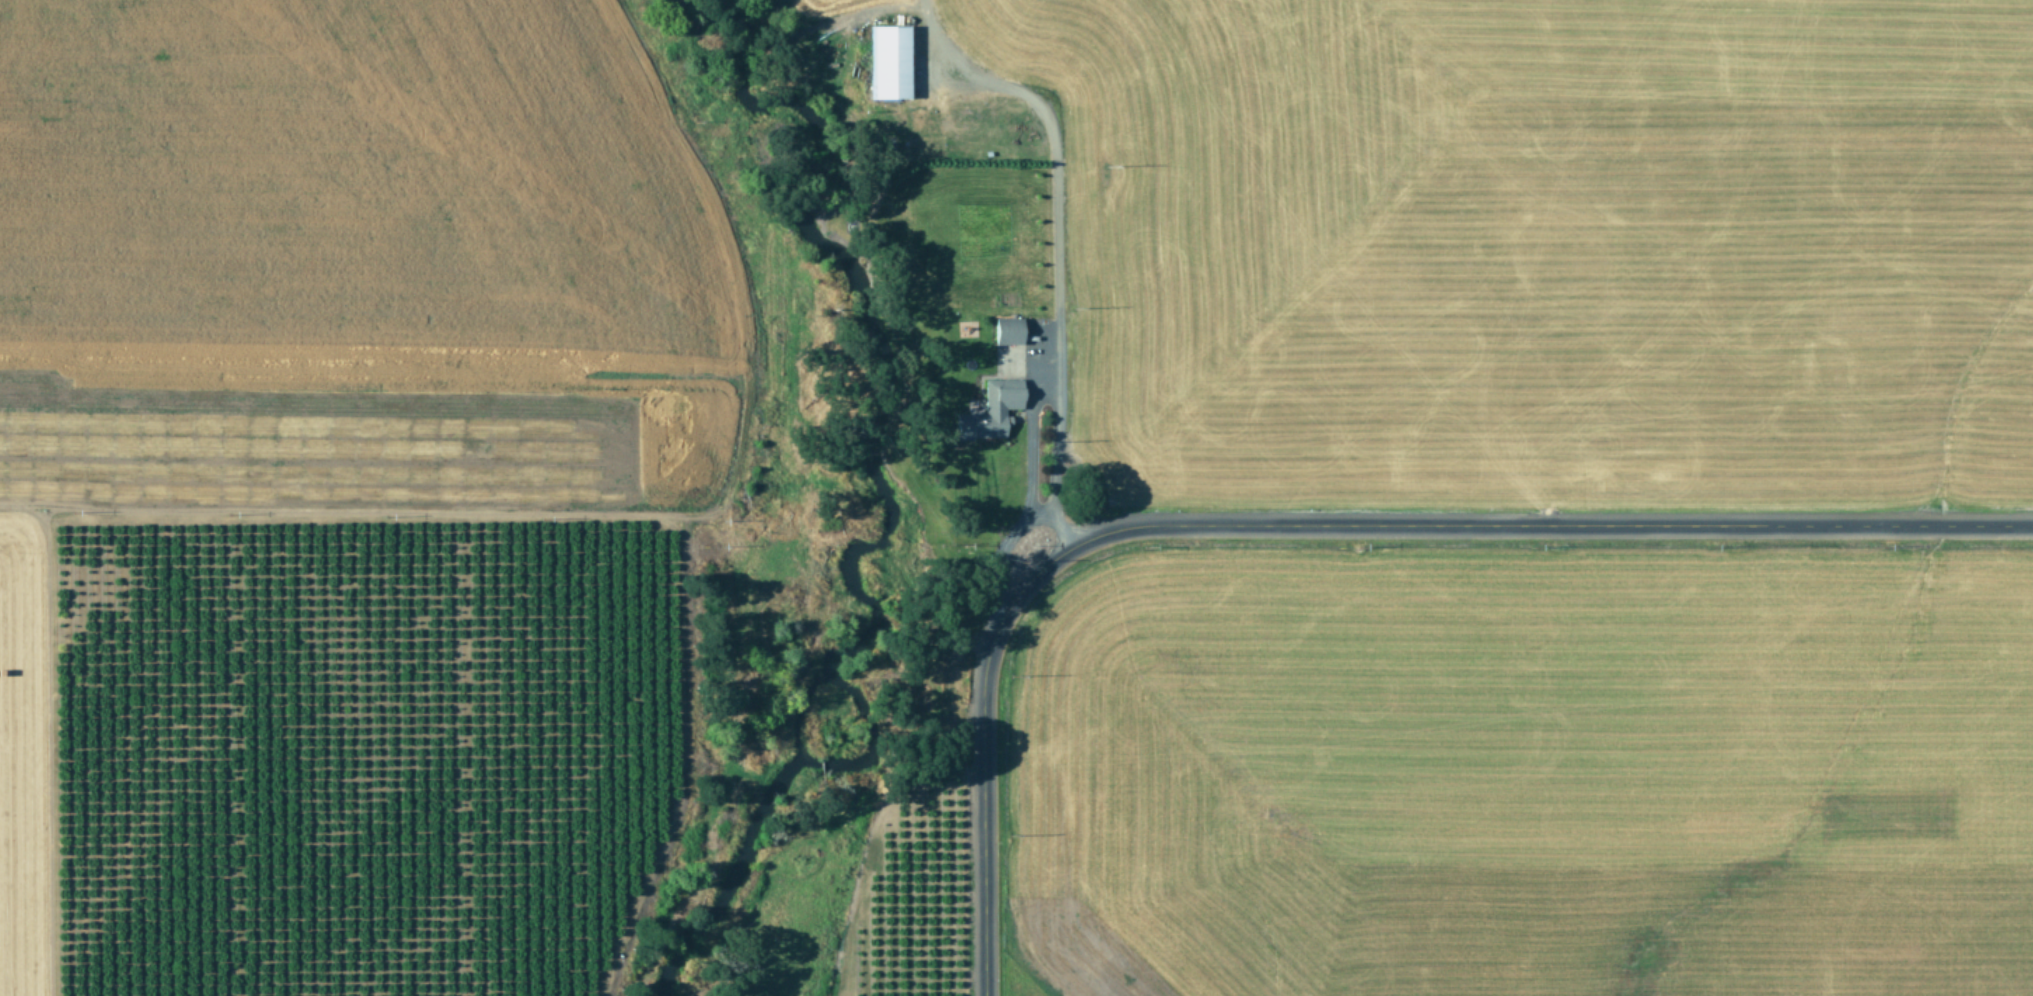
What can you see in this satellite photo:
building: (887, 62)
building: (1006, 331)
road: (1040, 393)
building: (989, 411)
crop: (1496, 505)
road: (1318, 536)
road: (1006, 539)

